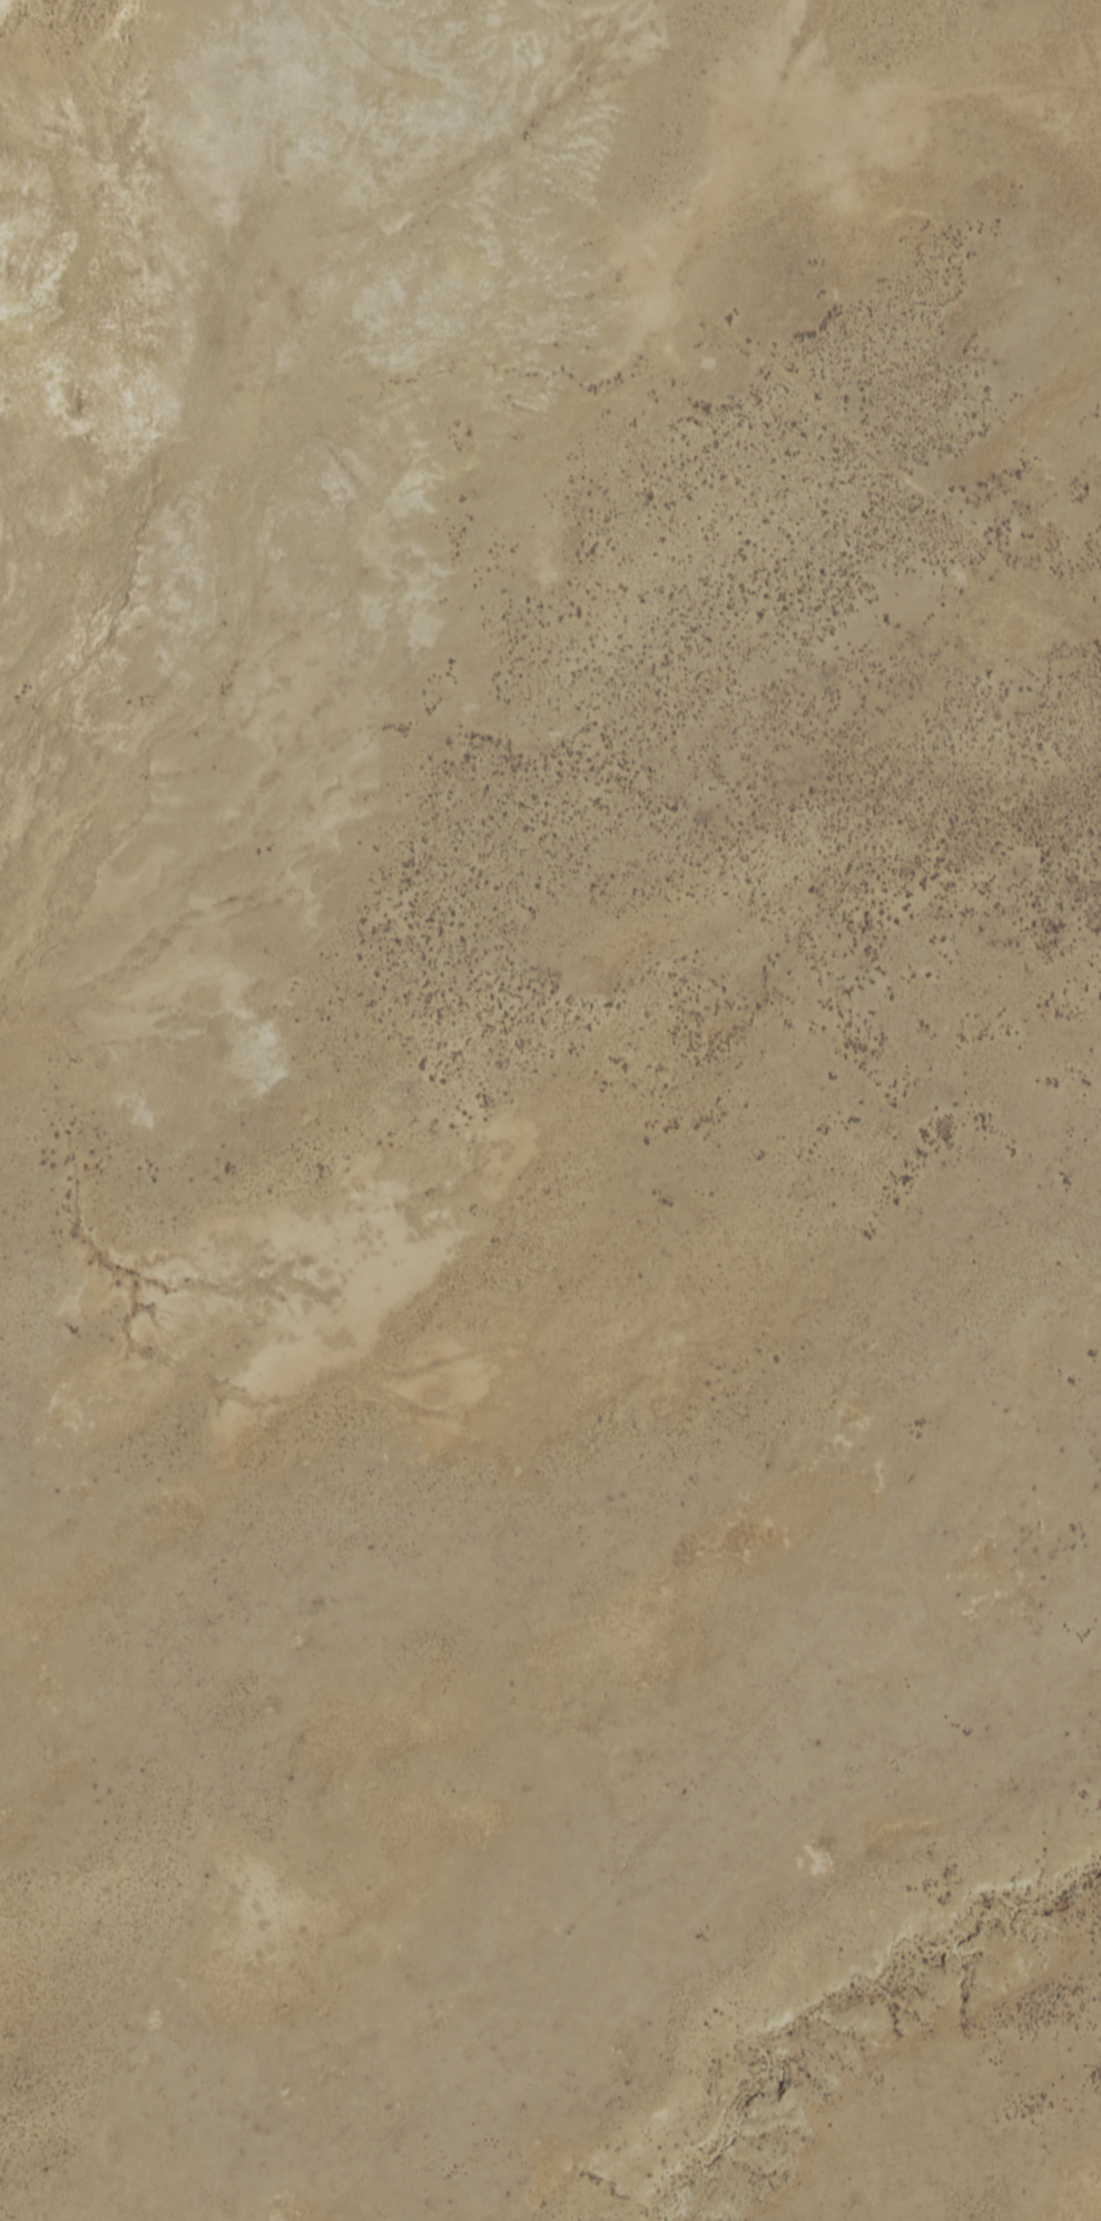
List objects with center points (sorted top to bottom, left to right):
road: (704, 317)
road: (561, 1355)

